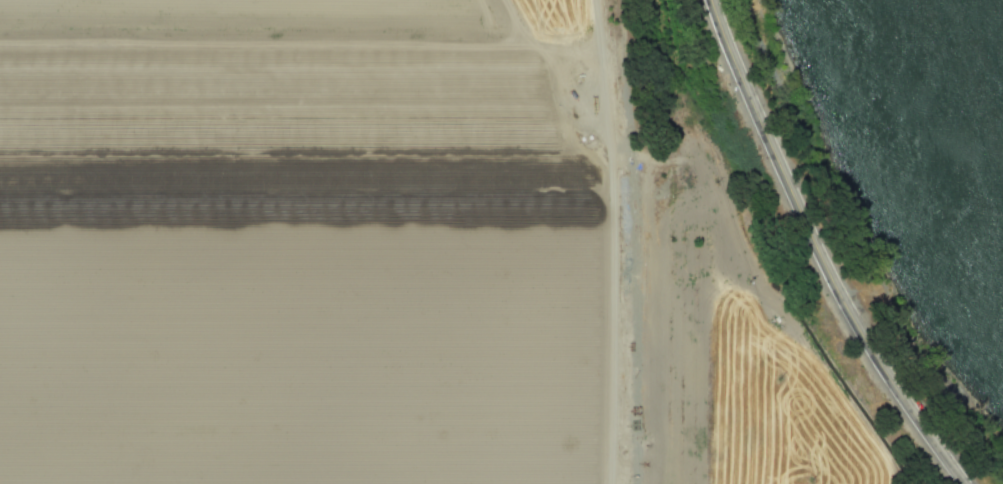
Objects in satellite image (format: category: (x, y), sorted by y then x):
river: (979, 74)
road: (815, 253)

